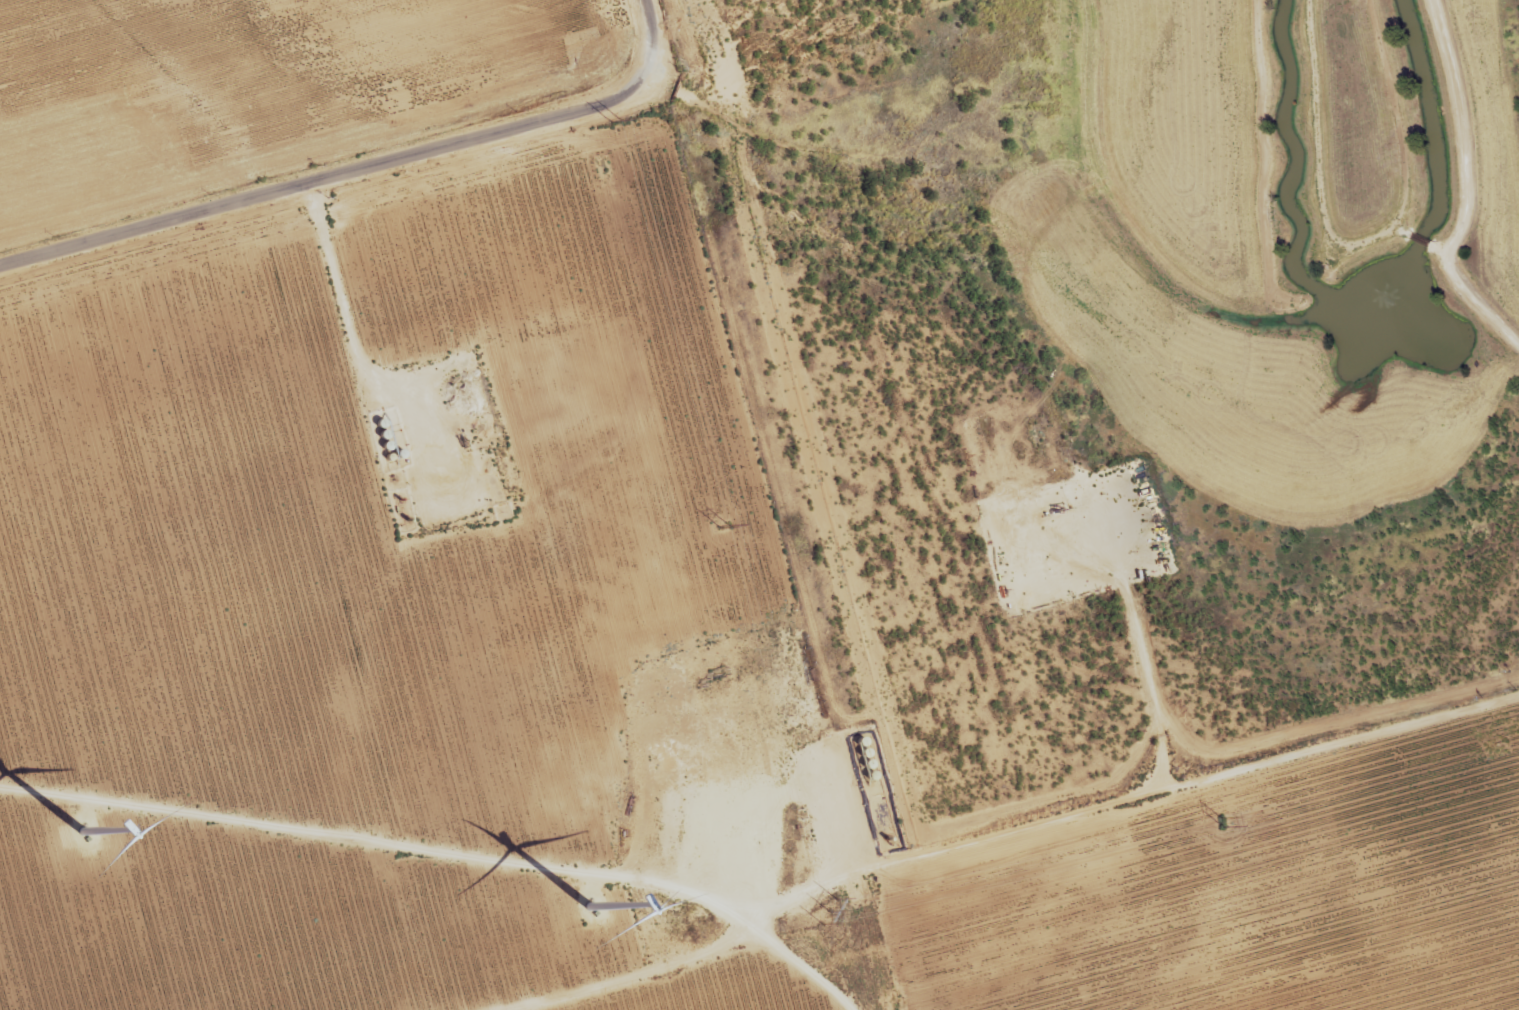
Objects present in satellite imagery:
road: (632, 52)
road: (689, 114)
power tower: (615, 118)
road: (323, 190)
power tower: (724, 524)
road: (949, 533)
power tower: (1220, 821)
wind turbine: (82, 831)
road: (1009, 841)
wind turbine: (588, 907)
power tower: (828, 912)
road: (801, 966)

